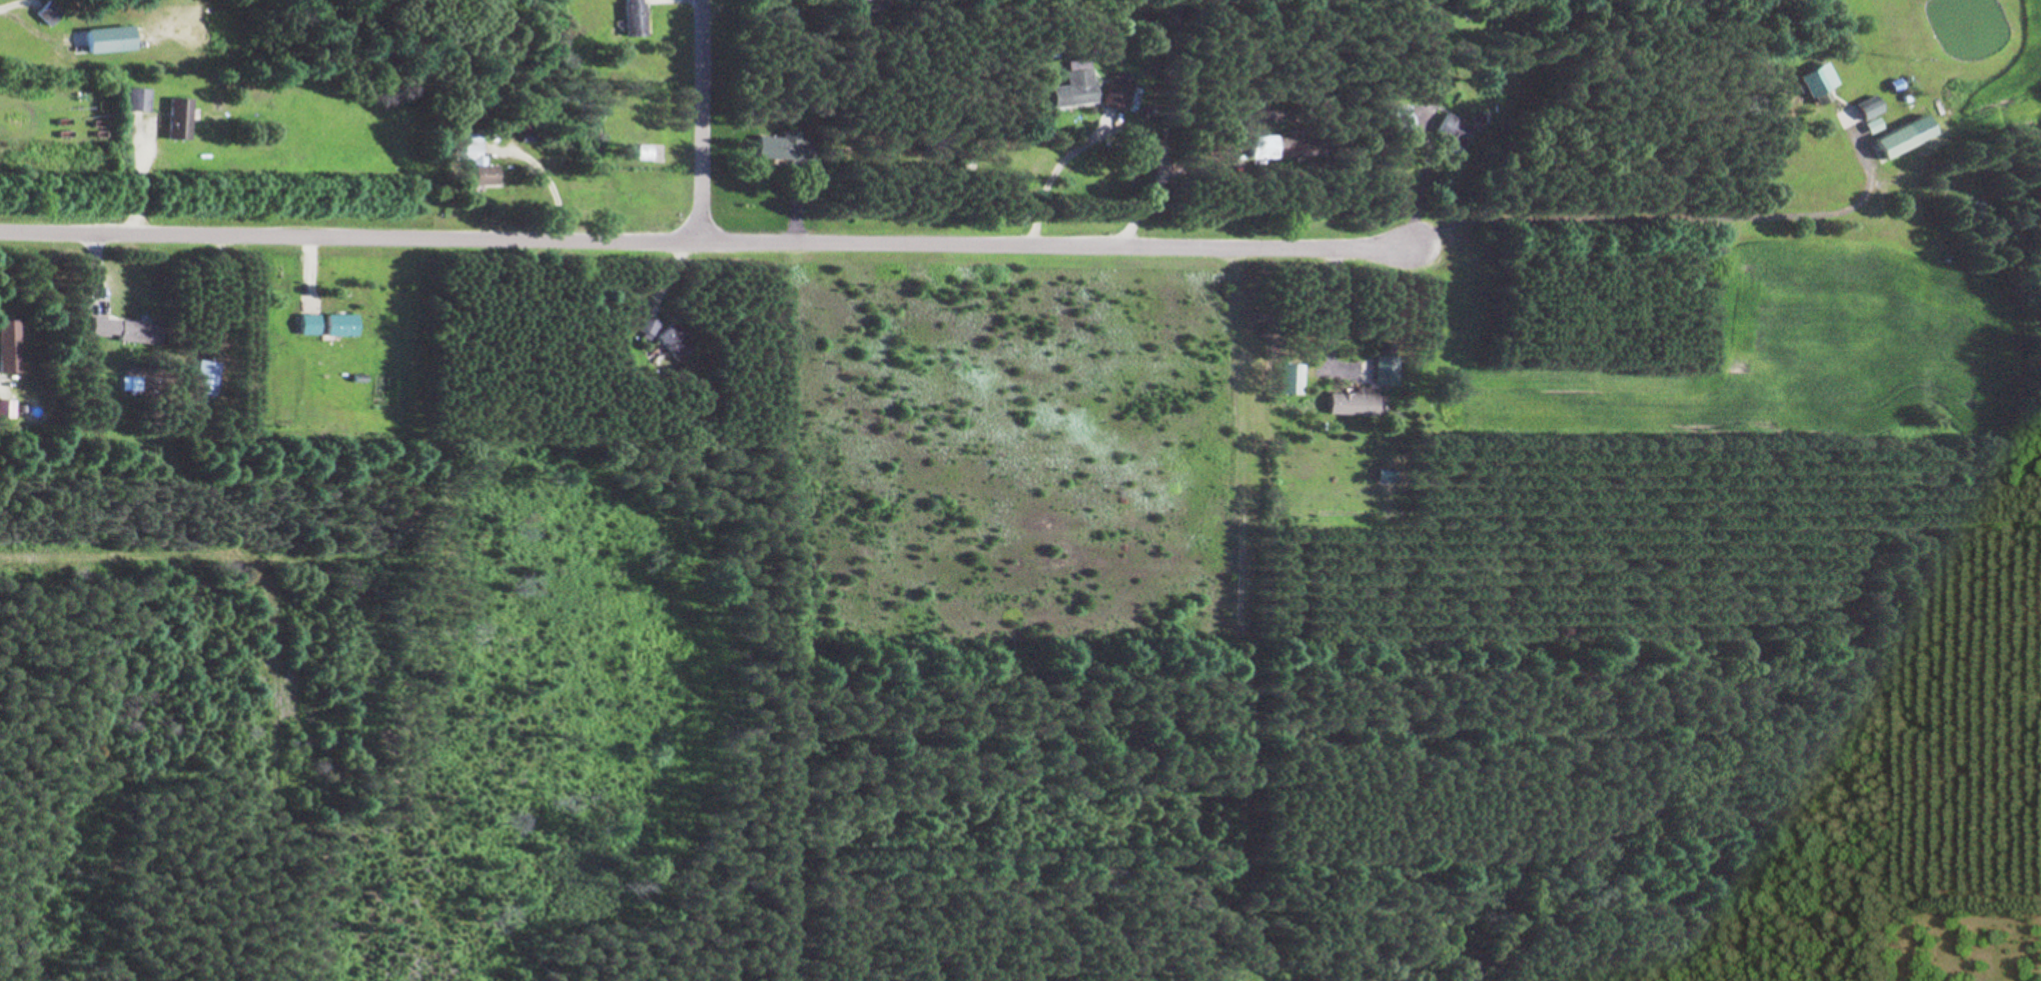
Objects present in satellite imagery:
building: (628, 17)
building: (1803, 82)
building: (1068, 90)
building: (129, 99)
building: (1398, 117)
building: (171, 118)
road: (703, 122)
building: (1865, 125)
building: (1448, 129)
building: (1894, 136)
building: (778, 146)
building: (1259, 146)
building: (641, 151)
building: (462, 152)
road: (1156, 175)
road: (1046, 180)
road: (707, 244)
building: (304, 324)
building: (337, 325)
building: (115, 326)
building: (665, 336)
building: (1385, 371)
building: (197, 377)
building: (1352, 401)

